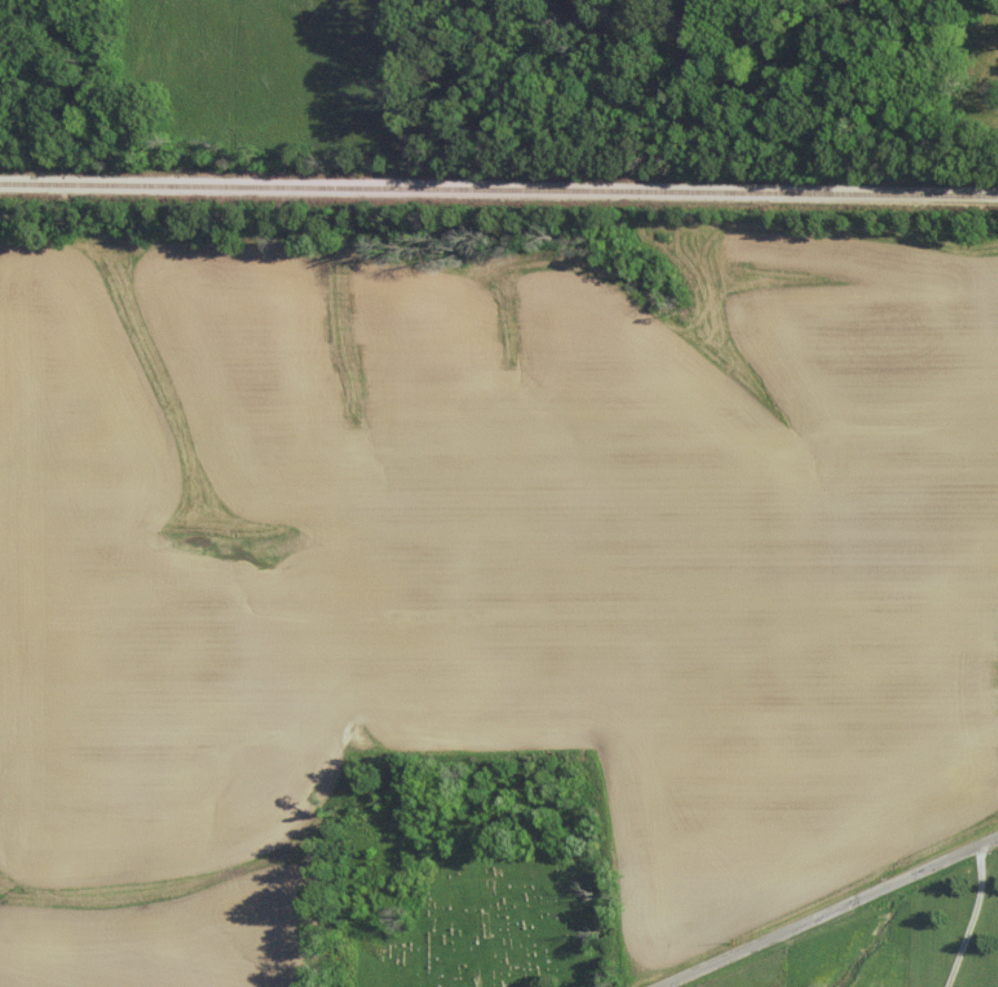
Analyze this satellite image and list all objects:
railway: (498, 187)
road: (830, 910)
road: (973, 917)
park: (492, 929)

